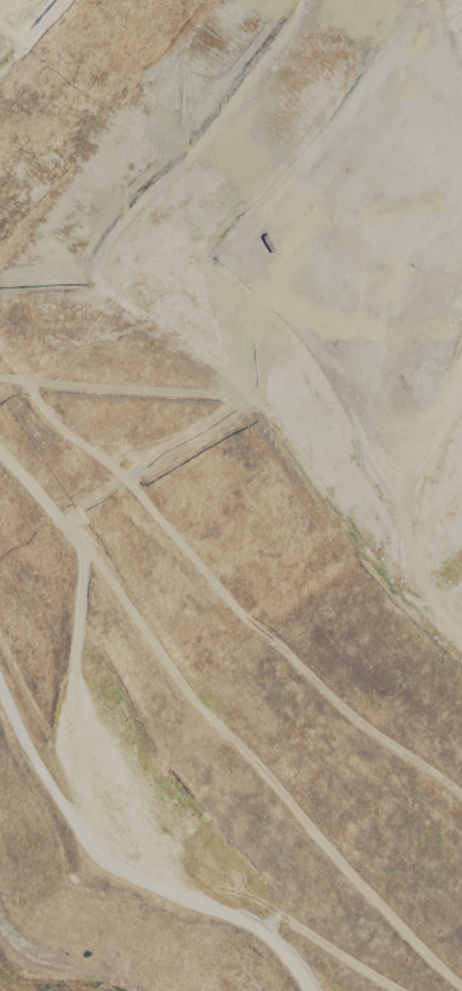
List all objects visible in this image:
landfill: (231, 495)

